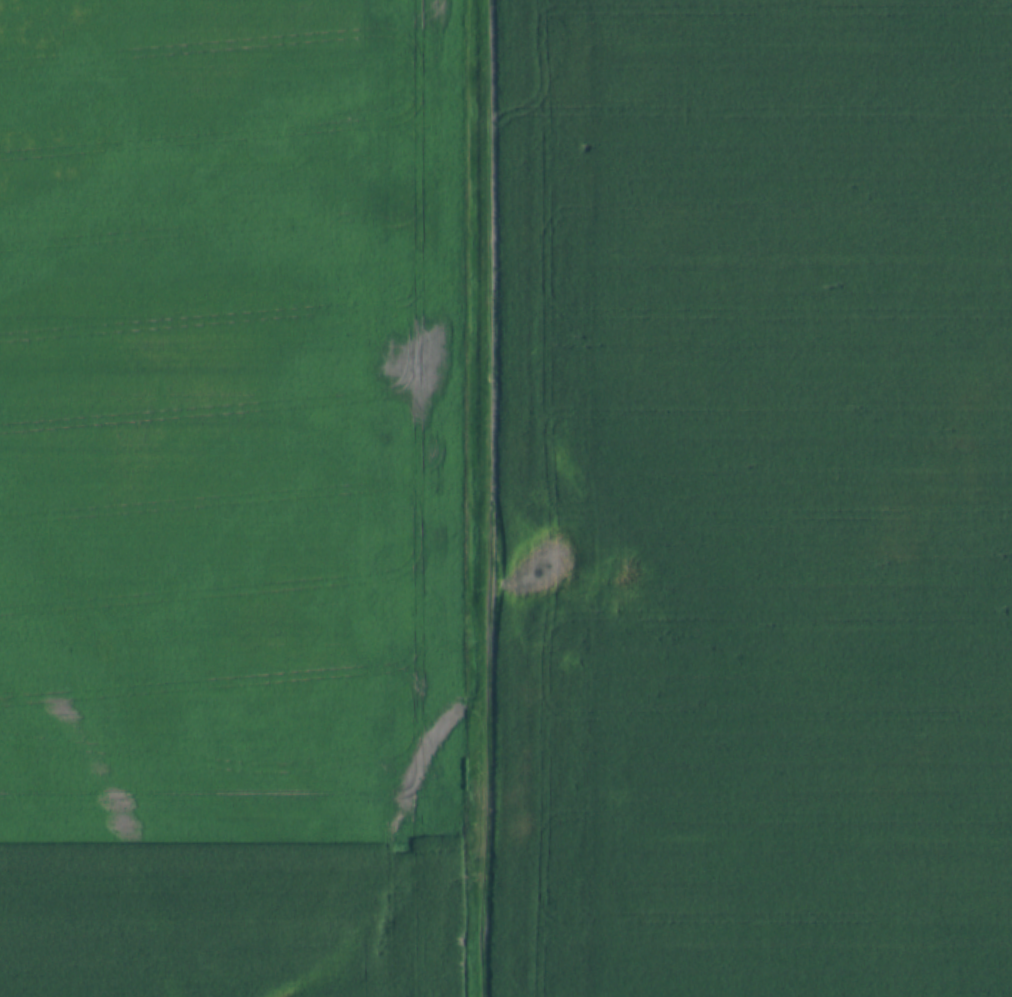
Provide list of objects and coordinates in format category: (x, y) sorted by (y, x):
road: (494, 498)

